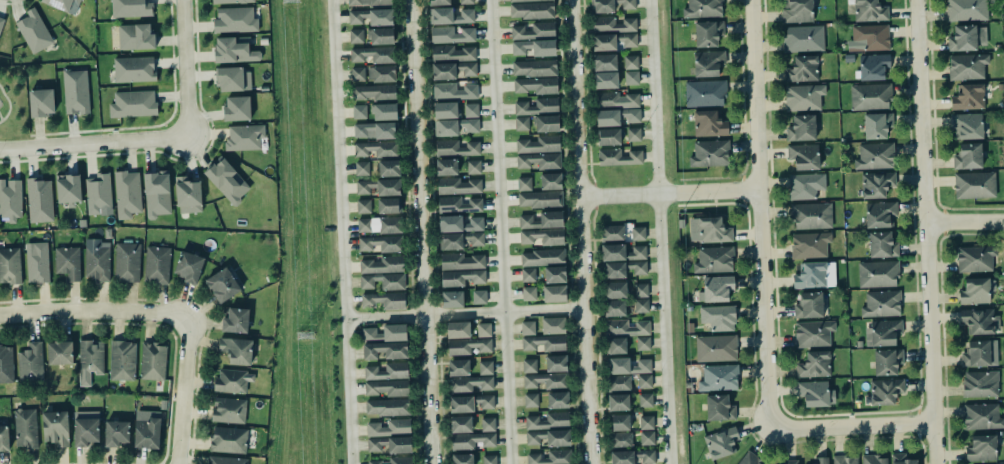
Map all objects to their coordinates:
building: (527, 0)
building: (228, 1)
power tower: (290, 1)
building: (466, 1)
building: (439, 2)
building: (61, 3)
building: (370, 3)
building: (615, 5)
building: (130, 7)
building: (701, 8)
building: (532, 10)
building: (796, 10)
building: (869, 10)
building: (965, 10)
building: (451, 16)
building: (371, 17)
building: (234, 19)
building: (1, 21)
building: (614, 24)
building: (33, 30)
building: (532, 30)
building: (706, 32)
building: (453, 34)
building: (134, 35)
building: (372, 36)
building: (872, 37)
building: (966, 37)
building: (627, 39)
building: (804, 39)
building: (605, 42)
building: (534, 46)
building: (234, 52)
building: (451, 52)
building: (373, 54)
building: (631, 62)
building: (605, 63)
building: (708, 63)
building: (871, 66)
building: (966, 66)
road: (183, 67)
building: (535, 68)
building: (135, 69)
building: (452, 69)
building: (803, 69)
building: (373, 74)
building: (632, 77)
building: (234, 79)
building: (606, 80)
building: (536, 85)
building: (75, 90)
building: (453, 90)
building: (374, 92)
building: (704, 92)
building: (967, 96)
building: (871, 99)
building: (616, 100)
building: (805, 100)
road: (8, 103)
park: (13, 103)
building: (41, 104)
building: (133, 104)
building: (538, 107)
building: (237, 108)
building: (445, 109)
building: (383, 110)
building: (471, 110)
building: (360, 112)
building: (616, 115)
road: (0, 118)
road: (0, 120)
building: (522, 123)
building: (547, 123)
building: (709, 124)
building: (454, 125)
building: (877, 126)
building: (967, 126)
building: (802, 128)
building: (374, 131)
building: (632, 133)
building: (608, 135)
building: (243, 136)
road: (93, 143)
building: (538, 143)
building: (458, 148)
building: (377, 149)
building: (709, 152)
building: (804, 156)
building: (875, 156)
building: (620, 157)
building: (968, 157)
building: (539, 160)
building: (446, 165)
building: (462, 165)
building: (473, 166)
building: (362, 168)
building: (389, 168)
building: (550, 179)
building: (227, 181)
building: (525, 184)
building: (975, 184)
building: (877, 185)
building: (459, 186)
building: (806, 186)
building: (379, 187)
building: (69, 189)
building: (98, 192)
building: (126, 192)
building: (156, 192)
building: (188, 196)
road: (668, 196)
building: (10, 199)
building: (38, 199)
building: (540, 199)
building: (388, 204)
building: (460, 204)
building: (362, 205)
building: (810, 214)
building: (880, 214)
road: (758, 216)
building: (540, 218)
building: (461, 223)
building: (379, 224)
road: (964, 224)
building: (712, 229)
road: (341, 231)
road: (580, 231)
road: (925, 231)
road: (420, 232)
road: (499, 232)
road: (658, 232)
building: (613, 233)
building: (638, 233)
building: (542, 235)
building: (462, 240)
building: (380, 244)
building: (809, 244)
building: (886, 248)
building: (614, 252)
building: (636, 253)
building: (974, 257)
building: (543, 258)
building: (713, 259)
building: (97, 260)
building: (37, 262)
building: (67, 262)
building: (127, 262)
building: (462, 262)
building: (156, 263)
building: (10, 264)
building: (188, 265)
building: (383, 265)
building: (615, 270)
building: (555, 274)
building: (878, 274)
building: (528, 275)
building: (814, 275)
building: (461, 276)
building: (383, 281)
building: (223, 285)
building: (717, 289)
building: (616, 290)
building: (641, 290)
building: (974, 290)
building: (555, 293)
building: (529, 294)
building: (463, 298)
building: (382, 299)
building: (808, 304)
building: (882, 304)
building: (641, 306)
building: (615, 308)
road: (95, 312)
road: (463, 313)
building: (719, 318)
building: (234, 319)
building: (979, 321)
building: (553, 325)
building: (528, 328)
building: (626, 328)
building: (458, 329)
building: (484, 330)
building: (812, 332)
building: (882, 332)
building: (387, 334)
power tower: (304, 337)
building: (544, 343)
building: (643, 343)
building: (617, 346)
building: (466, 348)
building: (716, 348)
building: (237, 350)
building: (385, 351)
building: (976, 352)
building: (59, 353)
building: (31, 359)
building: (122, 359)
building: (153, 360)
building: (88, 362)
building: (555, 362)
building: (887, 362)
building: (6, 364)
building: (627, 365)
building: (815, 365)
building: (530, 366)
building: (459, 368)
building: (486, 368)
building: (396, 369)
building: (718, 377)
building: (546, 380)
building: (233, 381)
building: (645, 381)
building: (470, 382)
building: (619, 383)
building: (981, 384)
building: (387, 388)
building: (884, 390)
road: (184, 391)
building: (816, 393)
building: (531, 400)
building: (558, 400)
building: (646, 400)
building: (484, 402)
building: (619, 402)
building: (461, 404)
building: (384, 405)
building: (719, 408)
building: (228, 410)
building: (982, 415)
building: (548, 420)
building: (621, 422)
building: (647, 422)
building: (461, 423)
building: (488, 424)
building: (390, 427)
building: (56, 428)
road: (851, 428)
building: (25, 429)
building: (86, 432)
building: (117, 433)
building: (149, 433)
building: (550, 437)
building: (647, 438)
building: (4, 439)
building: (228, 439)
building: (471, 439)
building: (621, 440)
building: (721, 443)
building: (393, 444)
building: (981, 447)
building: (549, 457)
building: (633, 457)
building: (748, 458)
building: (463, 459)
building: (489, 459)
building: (872, 459)
building: (901, 459)
building: (227, 460)
building: (394, 460)
building: (821, 460)
building: (846, 460)
building: (790, 462)

